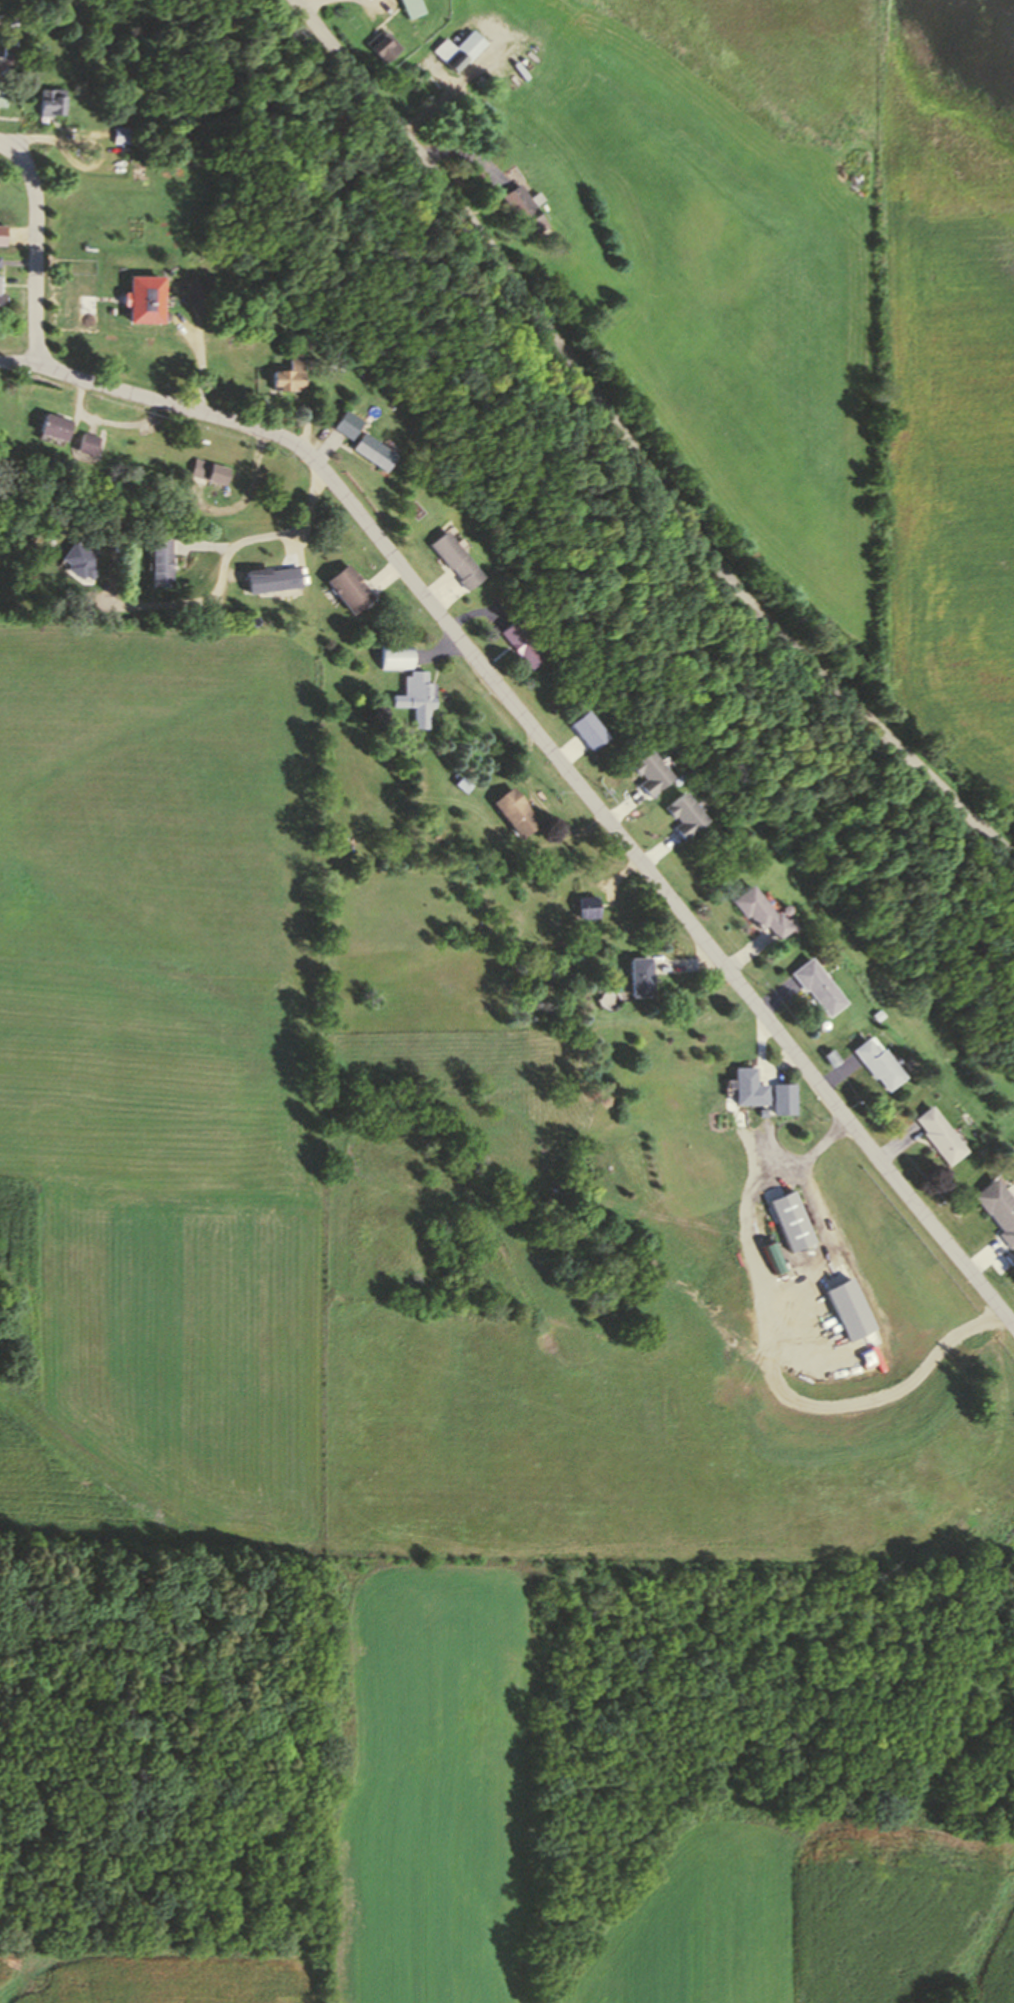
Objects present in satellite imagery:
road: (383, 0)
road: (312, 4)
building: (412, 7)
building: (382, 45)
building: (6, 49)
building: (458, 49)
building: (1, 99)
building: (50, 101)
road: (433, 110)
road: (9, 117)
building: (121, 134)
road: (45, 138)
road: (6, 145)
road: (466, 155)
road: (434, 172)
building: (523, 210)
building: (3, 231)
road: (37, 254)
building: (0, 288)
building: (140, 297)
road: (199, 339)
building: (285, 372)
road: (108, 421)
building: (345, 423)
building: (53, 426)
building: (86, 443)
building: (370, 450)
building: (209, 471)
road: (244, 497)
road: (201, 544)
road: (290, 544)
building: (454, 559)
building: (78, 560)
building: (158, 562)
road: (224, 564)
building: (269, 578)
building: (347, 587)
road: (770, 618)
building: (520, 641)
building: (398, 656)
building: (417, 696)
road: (560, 759)
building: (647, 772)
road: (540, 804)
building: (512, 812)
building: (683, 817)
building: (587, 906)
building: (759, 911)
building: (637, 976)
building: (816, 985)
road: (761, 1063)
building: (877, 1063)
building: (745, 1087)
building: (783, 1097)
building: (940, 1136)
road: (801, 1162)
crop: (388, 1195)
building: (998, 1209)
building: (787, 1221)

